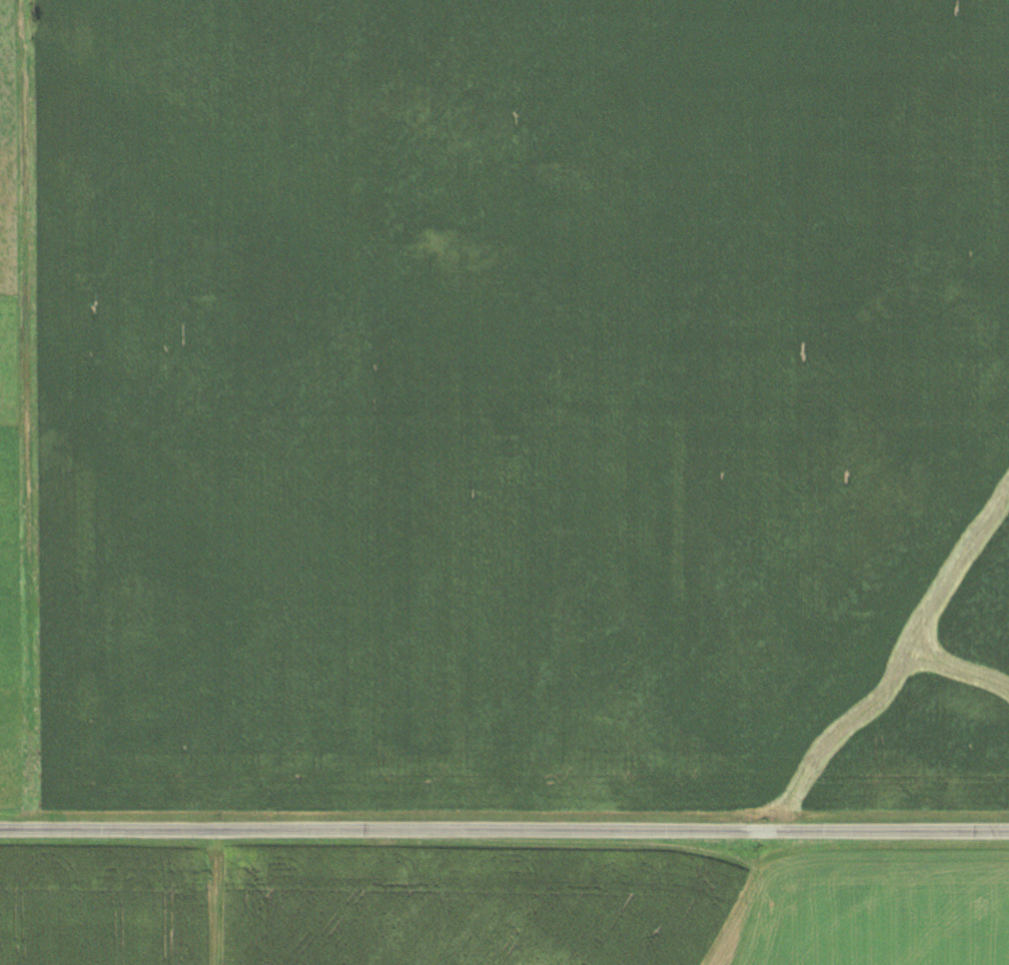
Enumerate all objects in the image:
road: (504, 830)

